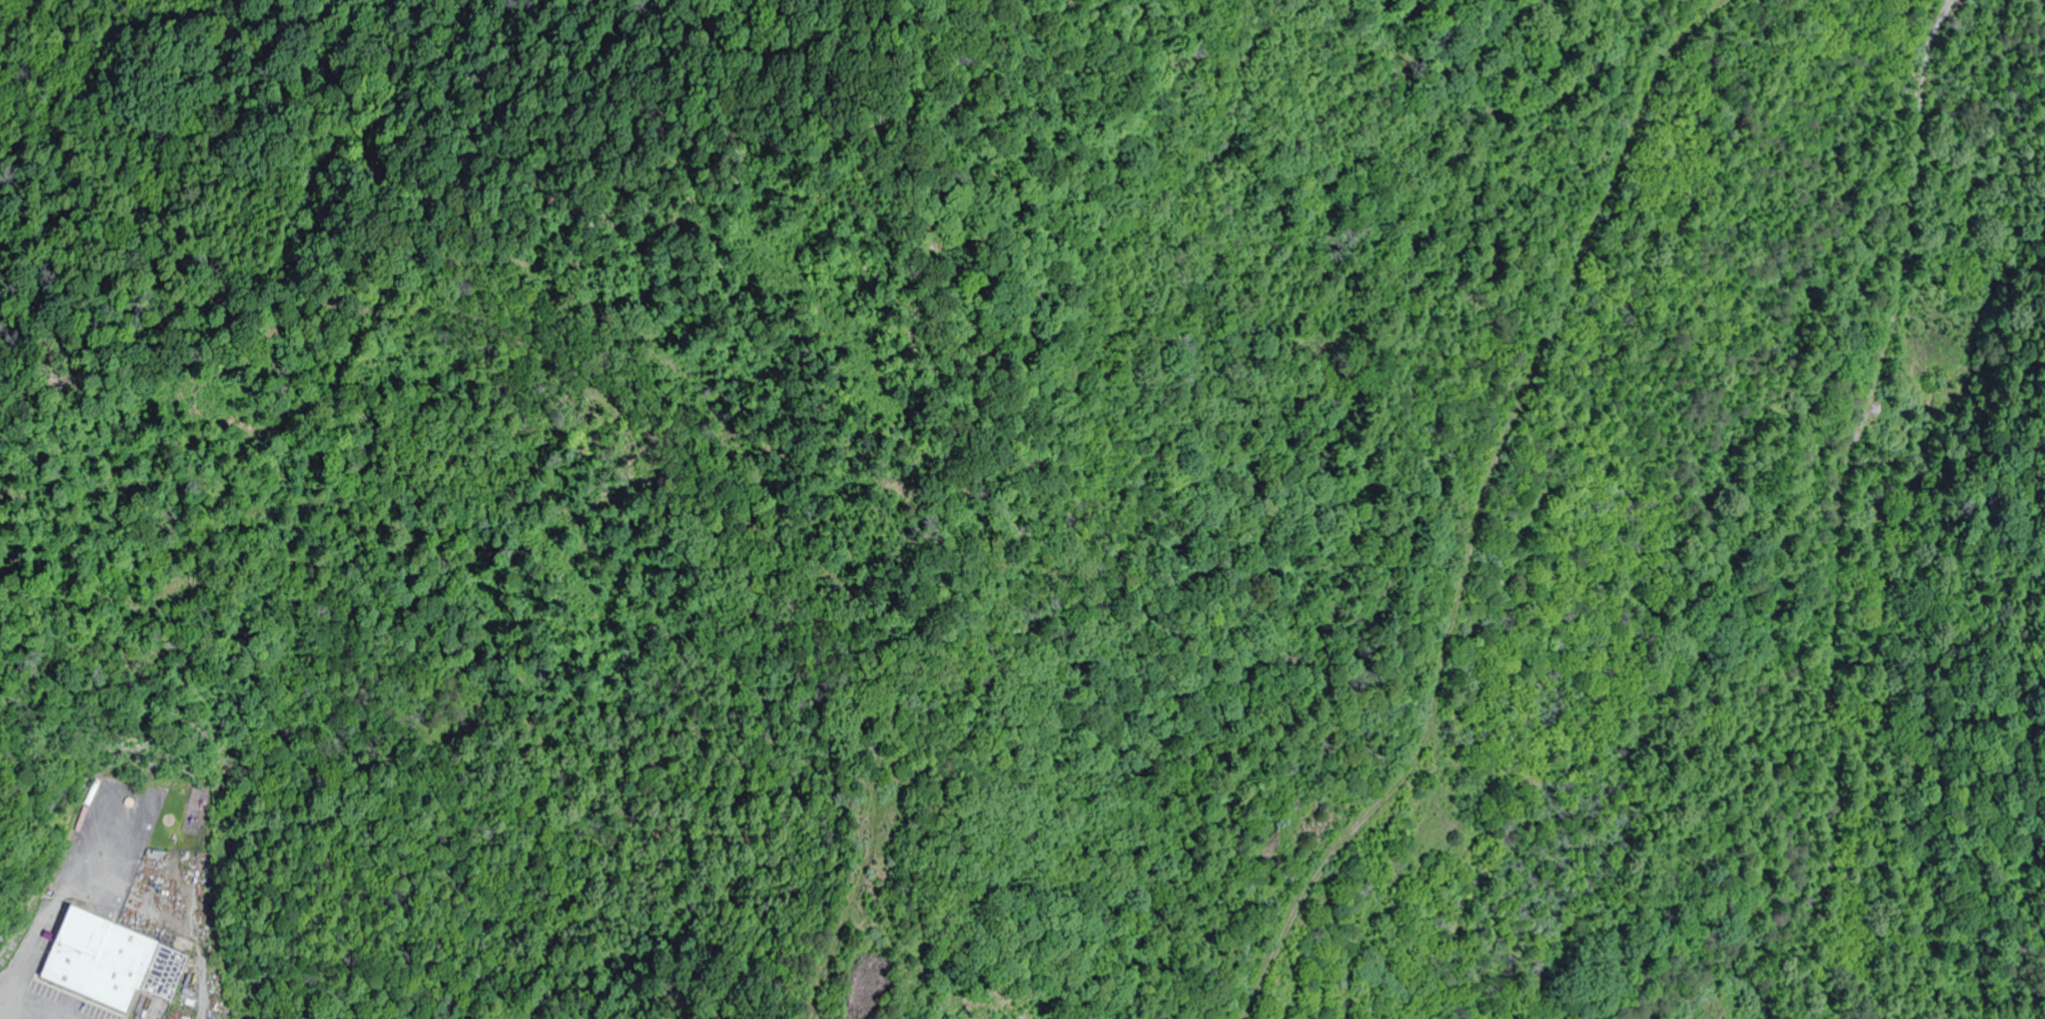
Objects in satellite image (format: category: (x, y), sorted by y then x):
building: (148, 863)
building: (105, 962)

